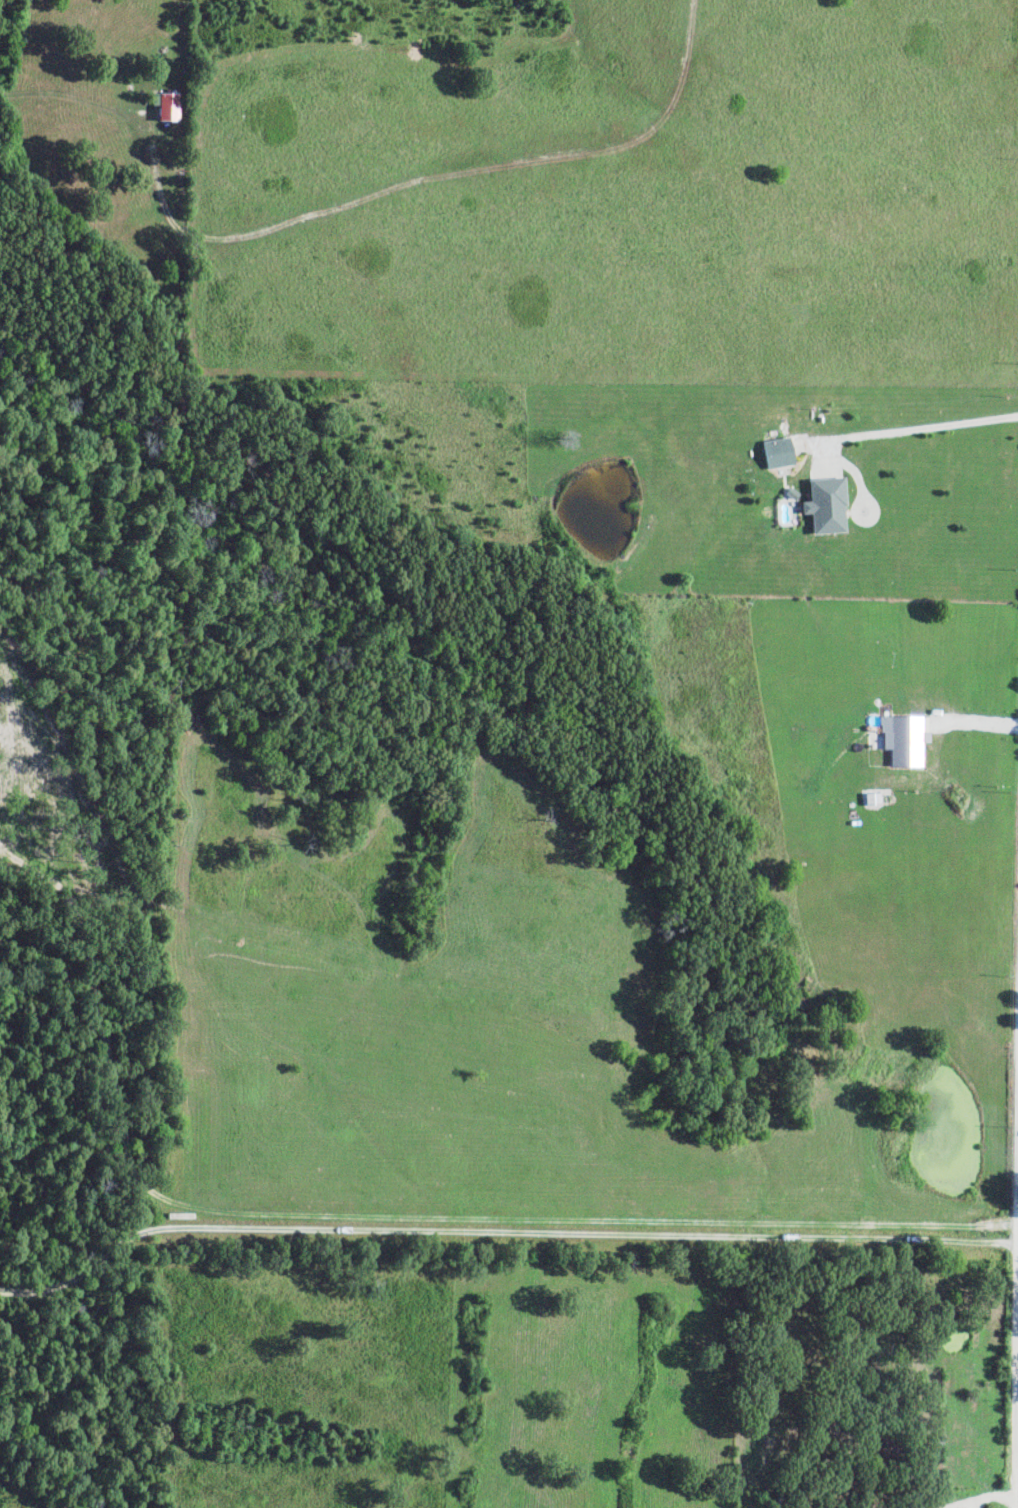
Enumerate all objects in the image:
building: (169, 107)
road: (915, 428)
building: (779, 454)
building: (827, 507)
building: (906, 741)
road: (383, 1214)
road: (1014, 1293)

